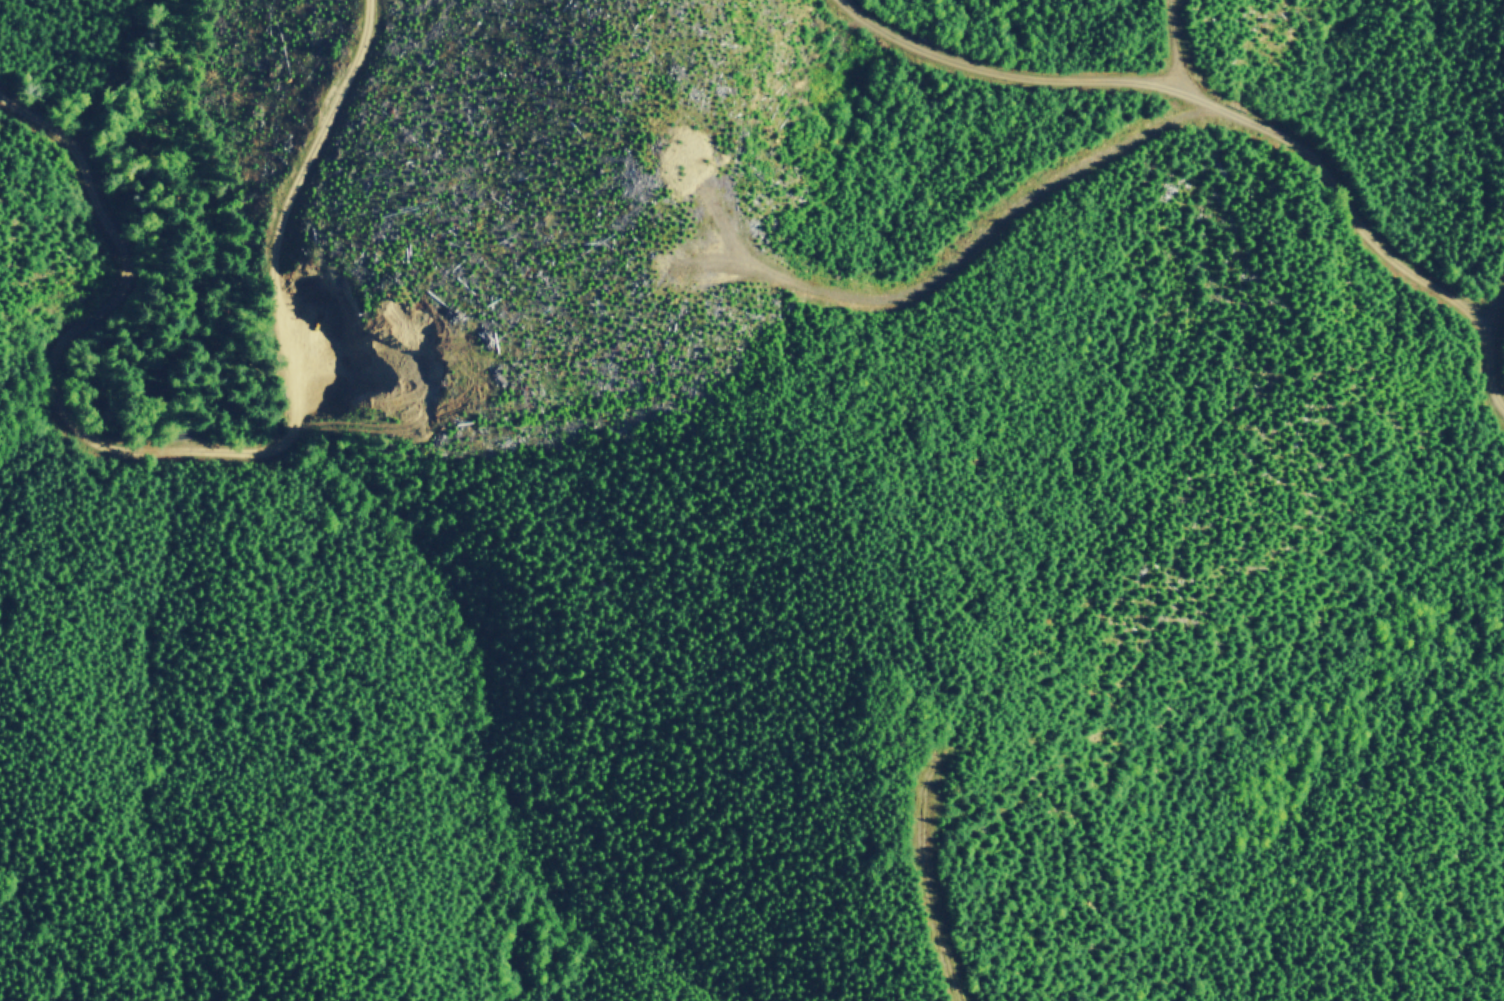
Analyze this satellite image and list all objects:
road: (205, 421)

